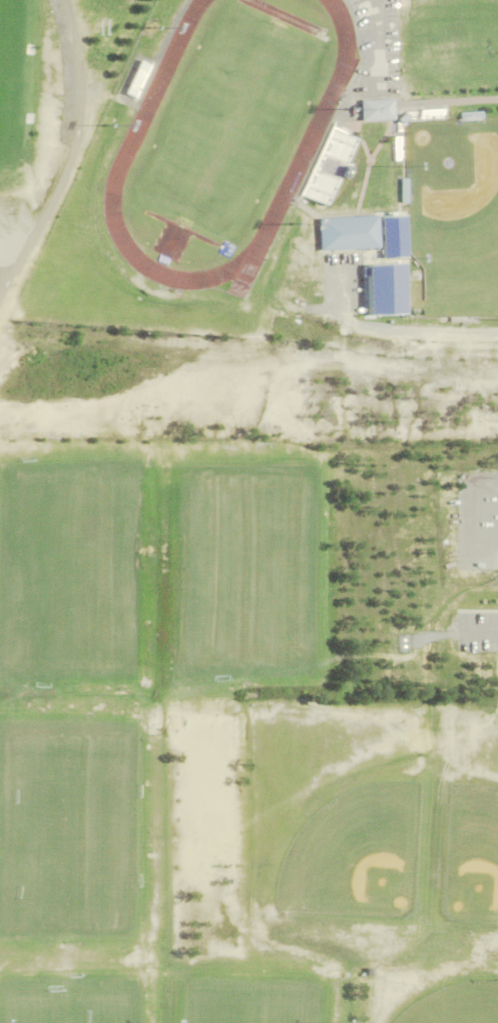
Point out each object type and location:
building: (83, 1)
park: (6, 25)
road: (375, 60)
building: (136, 80)
road: (451, 101)
building: (374, 110)
track: (138, 122)
park: (5, 123)
park: (227, 123)
road: (69, 153)
building: (327, 166)
park: (451, 218)
building: (347, 235)
building: (390, 238)
flagpole: (160, 286)
park: (71, 569)
park: (243, 578)
road: (477, 624)
parking lot: (477, 629)
park: (232, 638)
park: (67, 779)
park: (470, 849)
park: (353, 852)
park: (67, 887)
park: (453, 1003)
park: (245, 1005)
park: (65, 1008)

